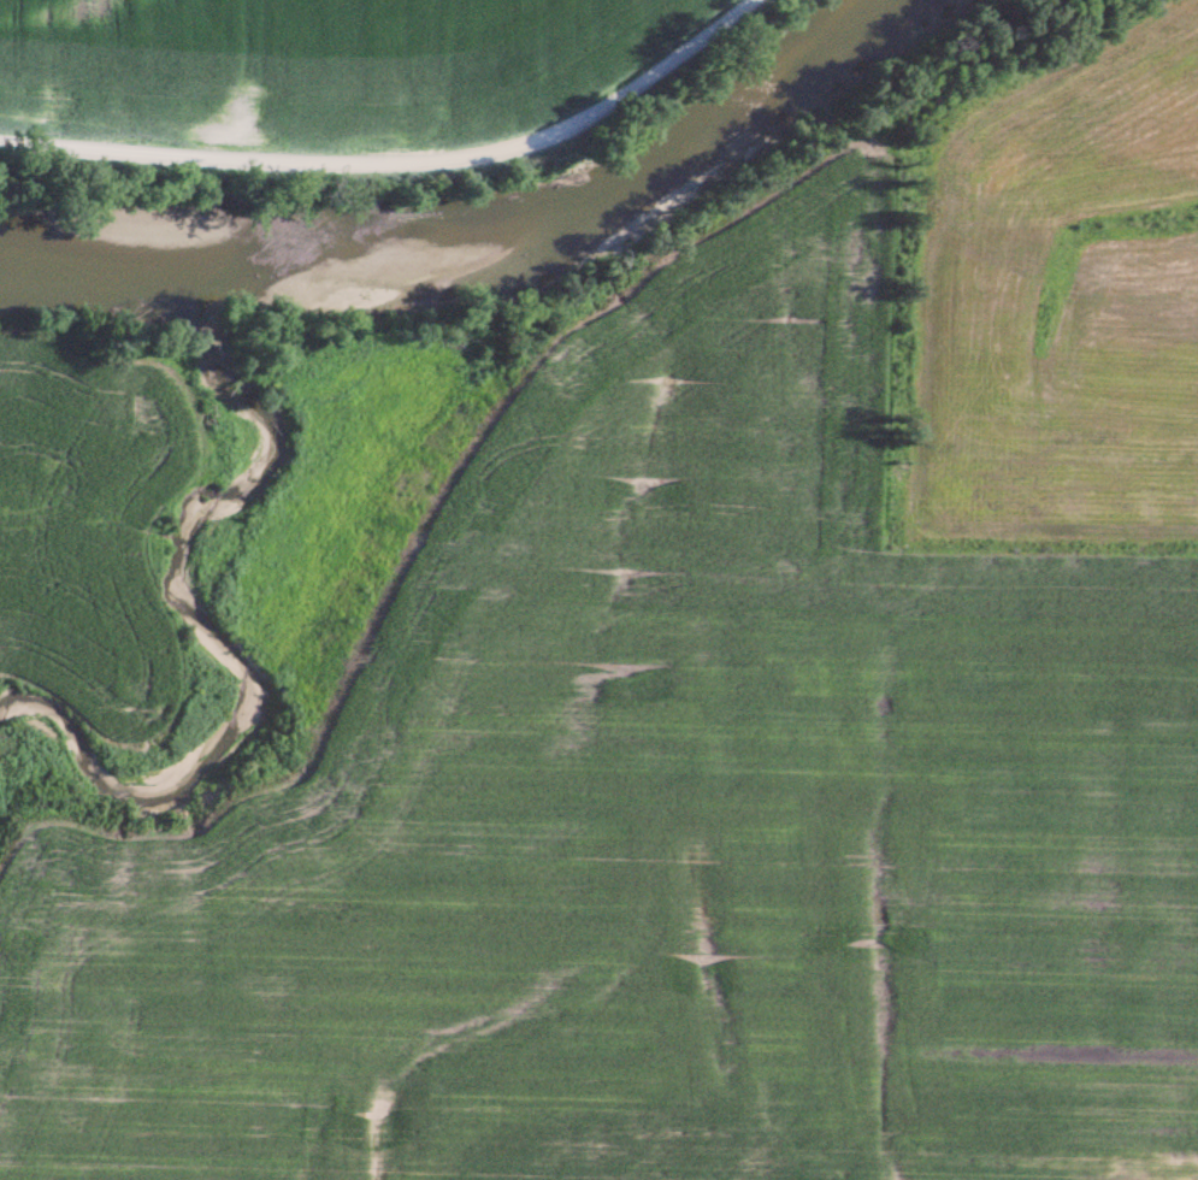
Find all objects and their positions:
road: (400, 159)
river: (470, 223)

